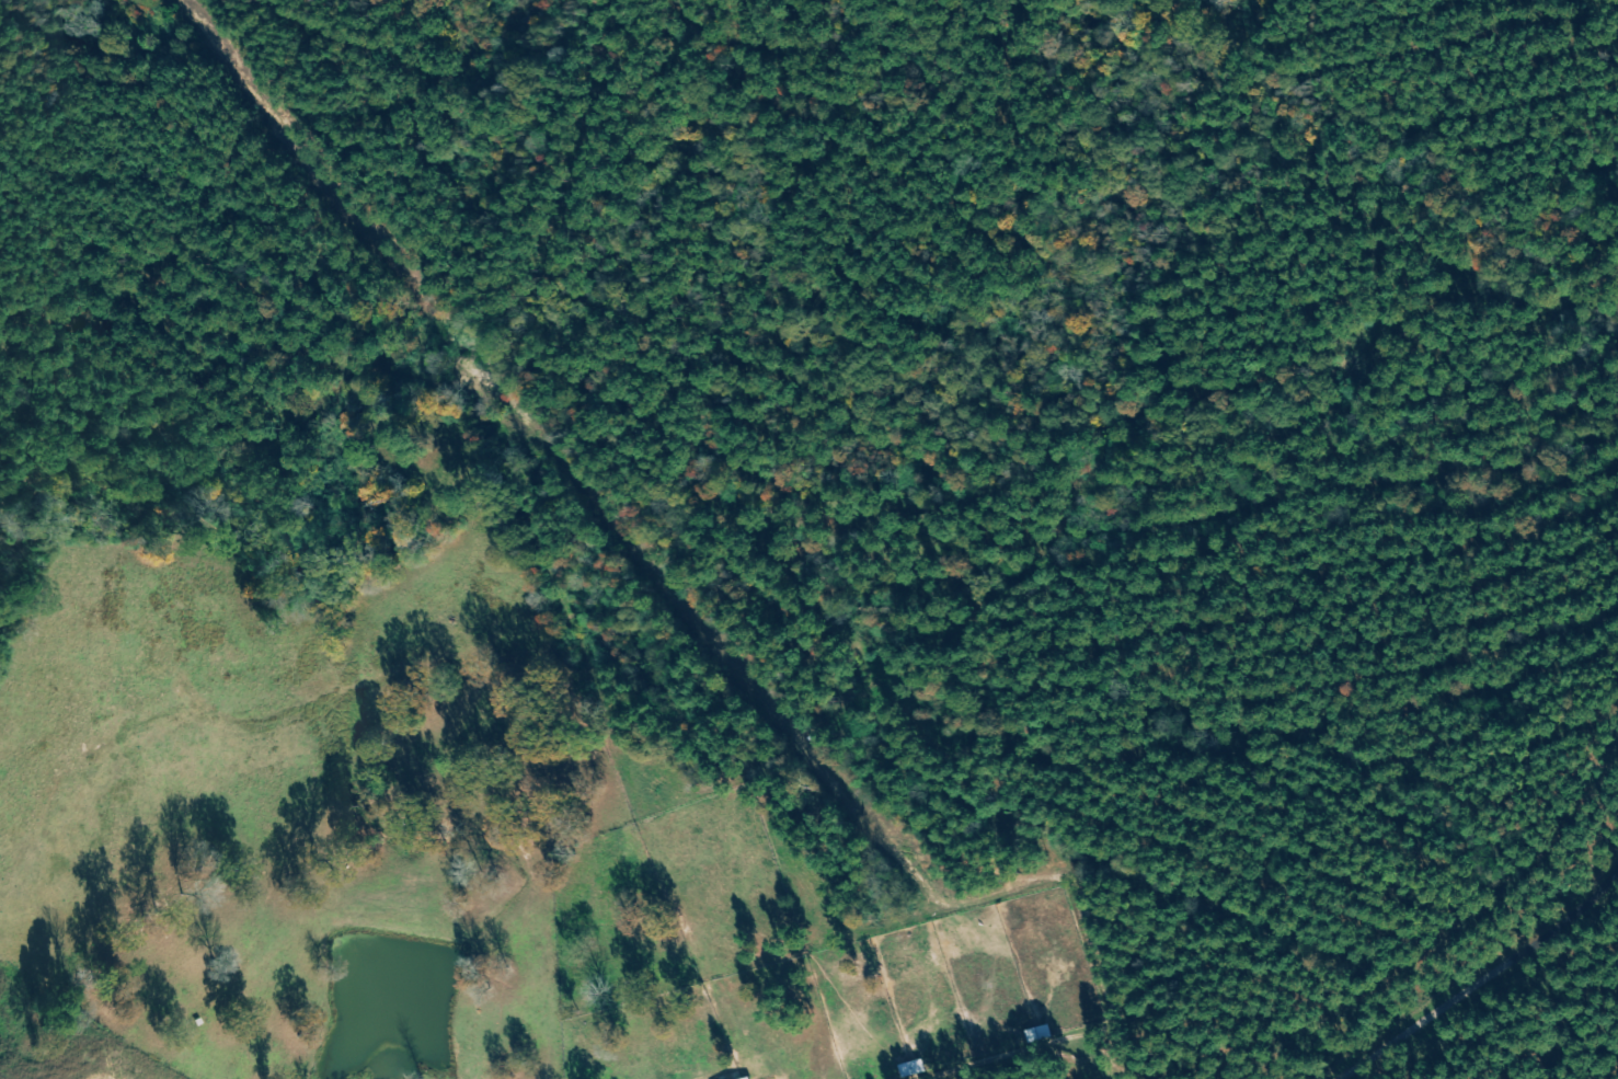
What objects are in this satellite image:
building: (750, 1078)

